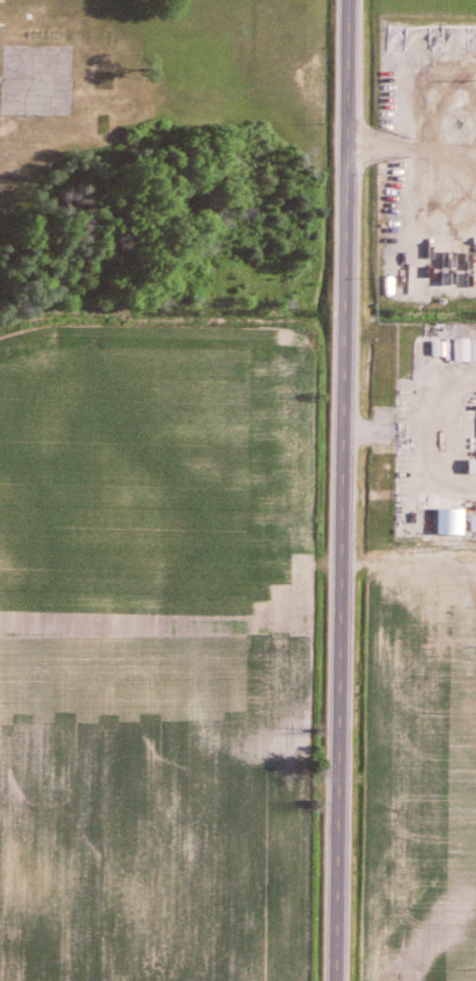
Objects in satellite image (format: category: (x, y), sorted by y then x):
building: (436, 335)
road: (345, 490)
building: (472, 525)

